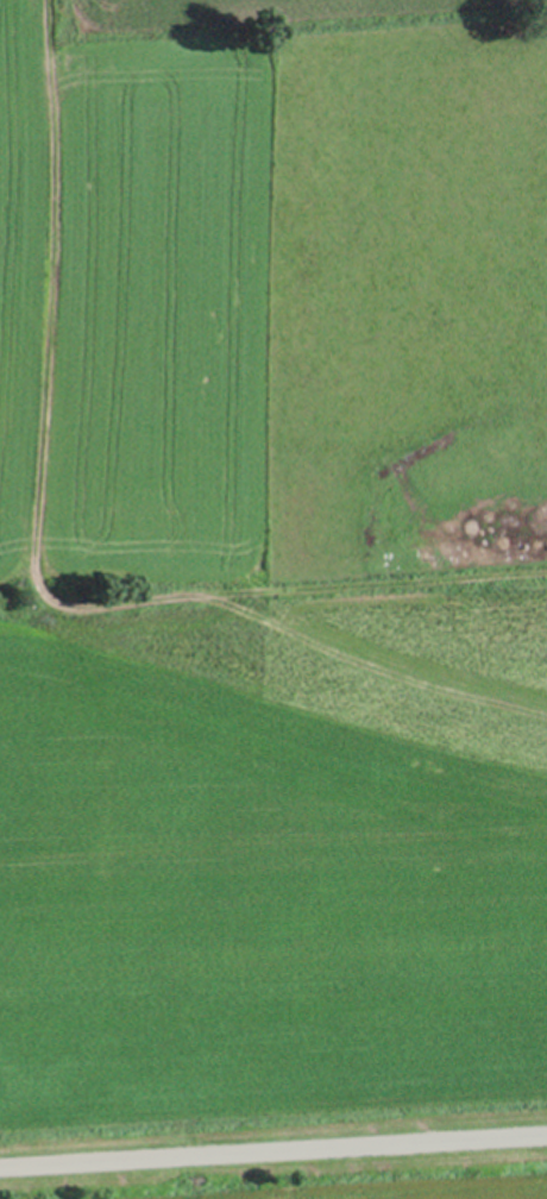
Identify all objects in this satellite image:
crop: (272, 559)
road: (273, 1149)
crop: (304, 1180)

